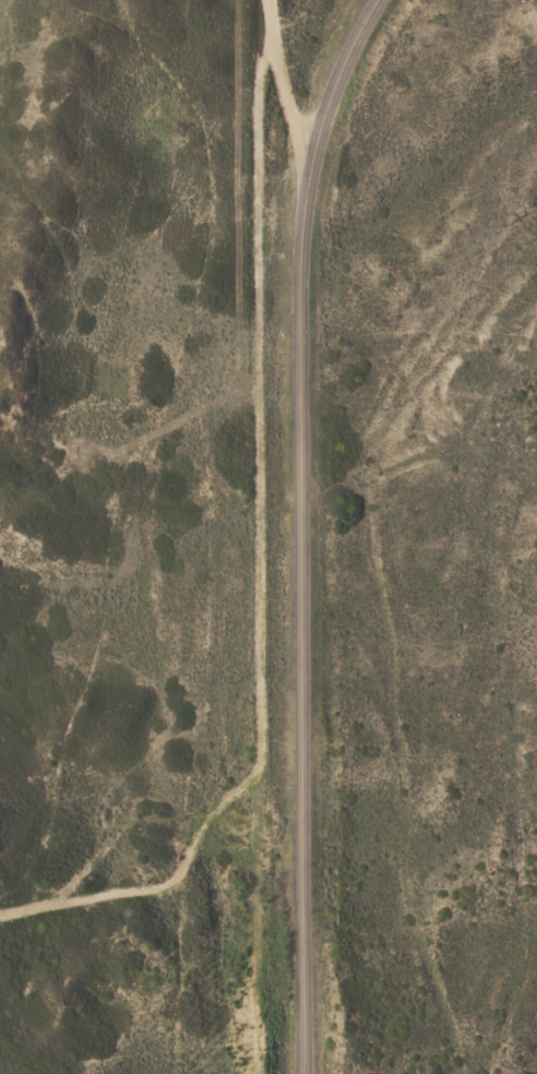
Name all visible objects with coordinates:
road: (276, 75)
road: (298, 529)

